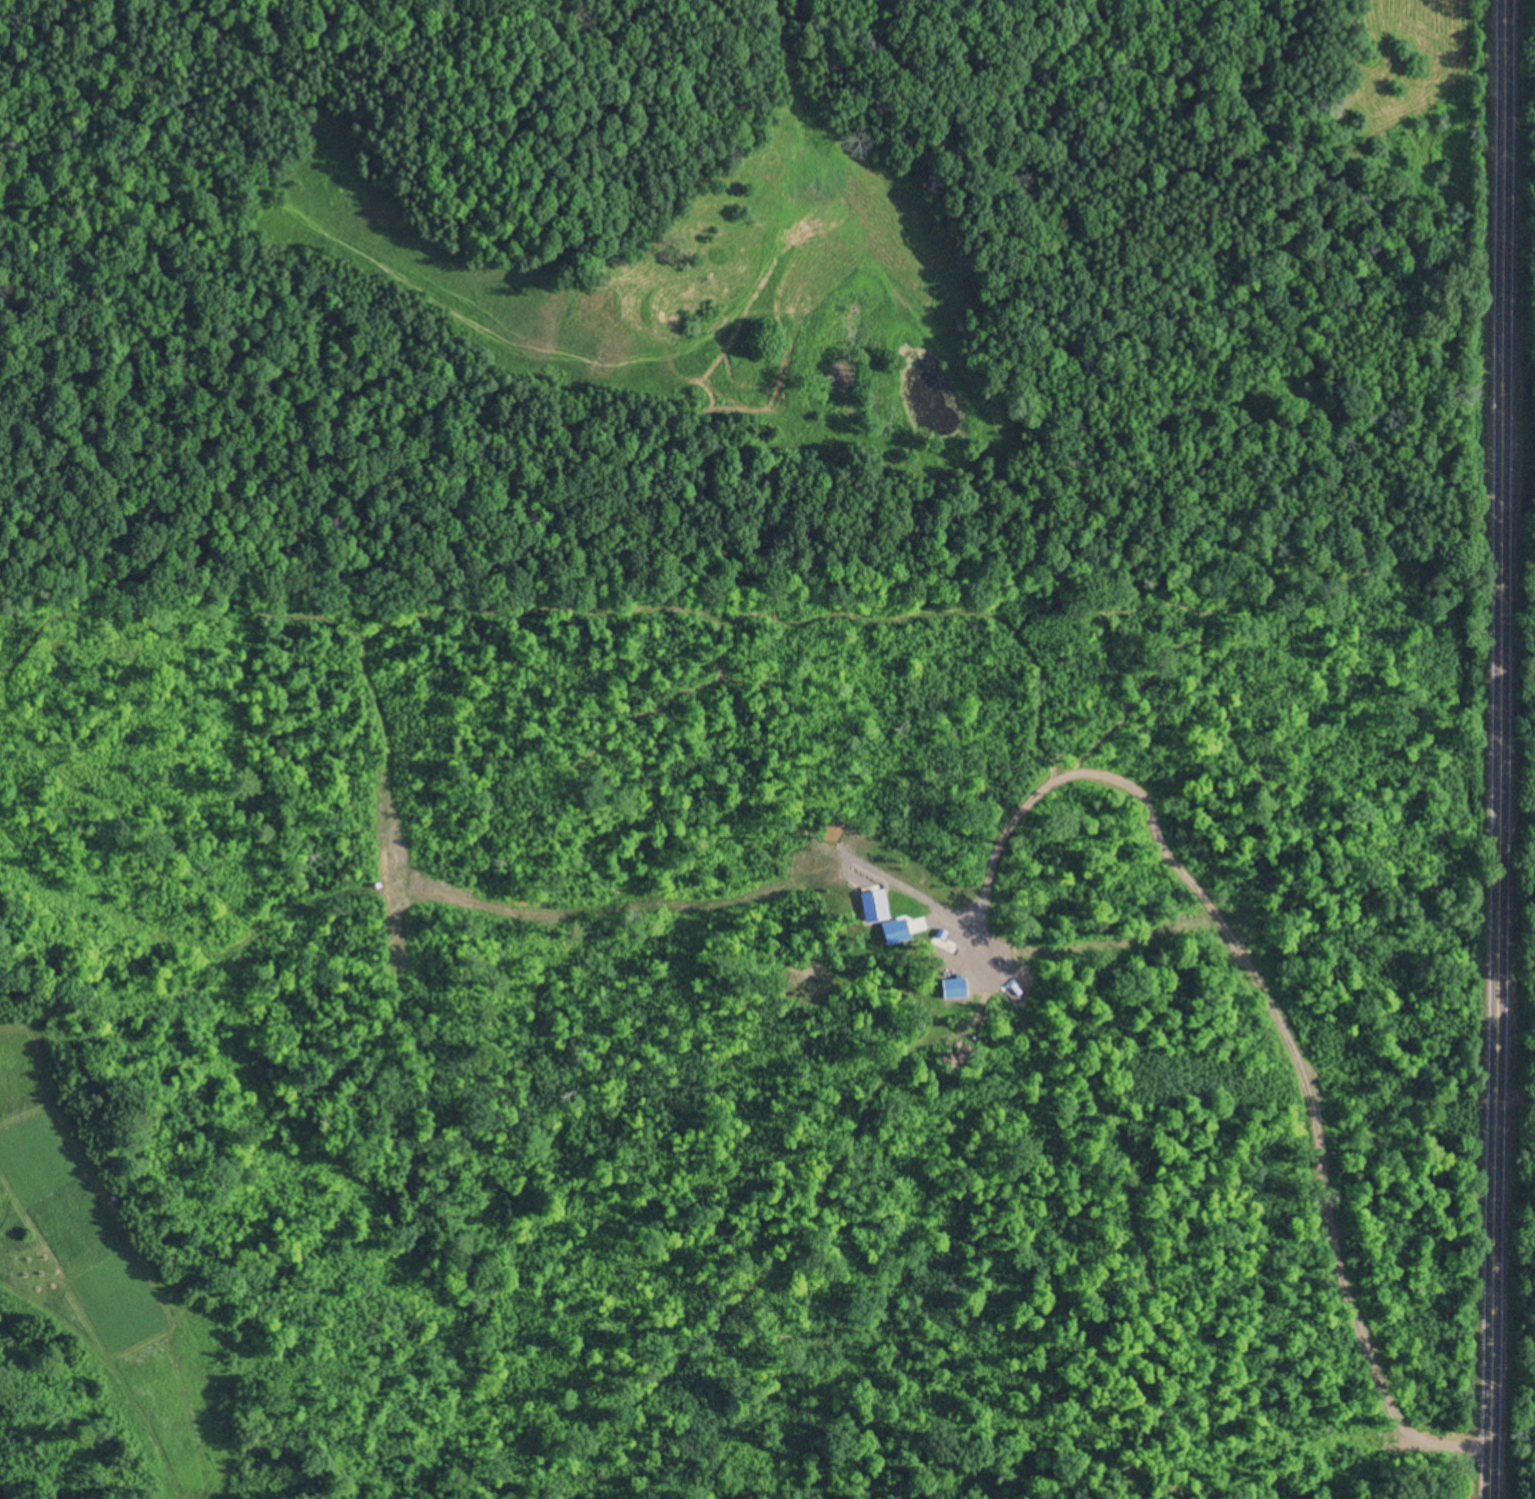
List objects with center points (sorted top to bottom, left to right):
road: (1498, 749)

